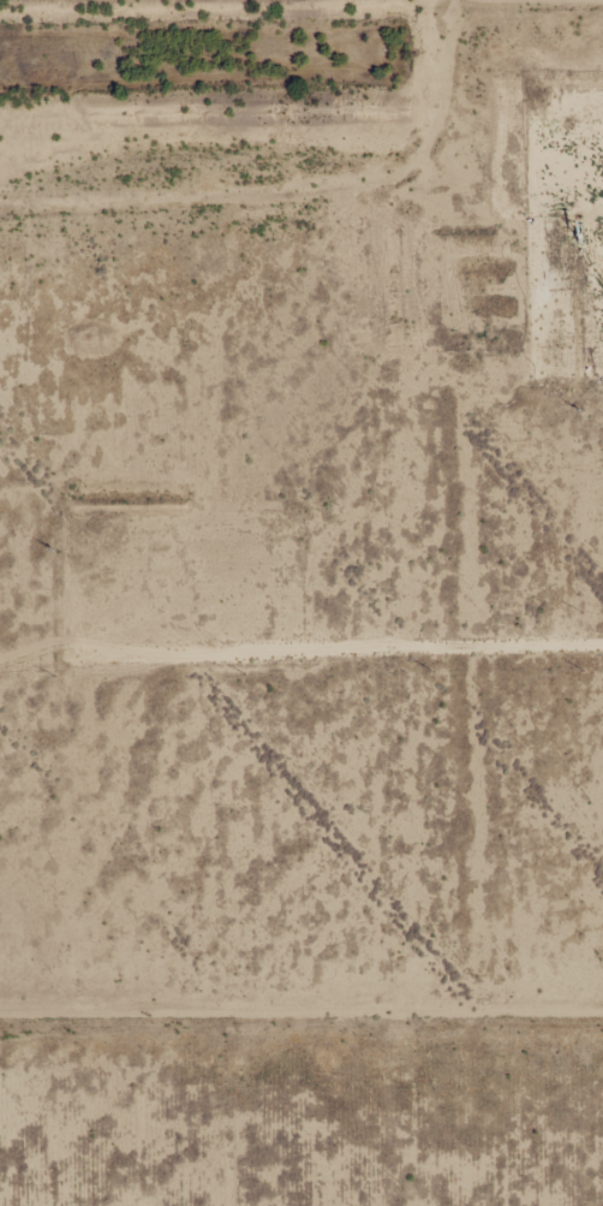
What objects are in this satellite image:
road: (300, 994)

